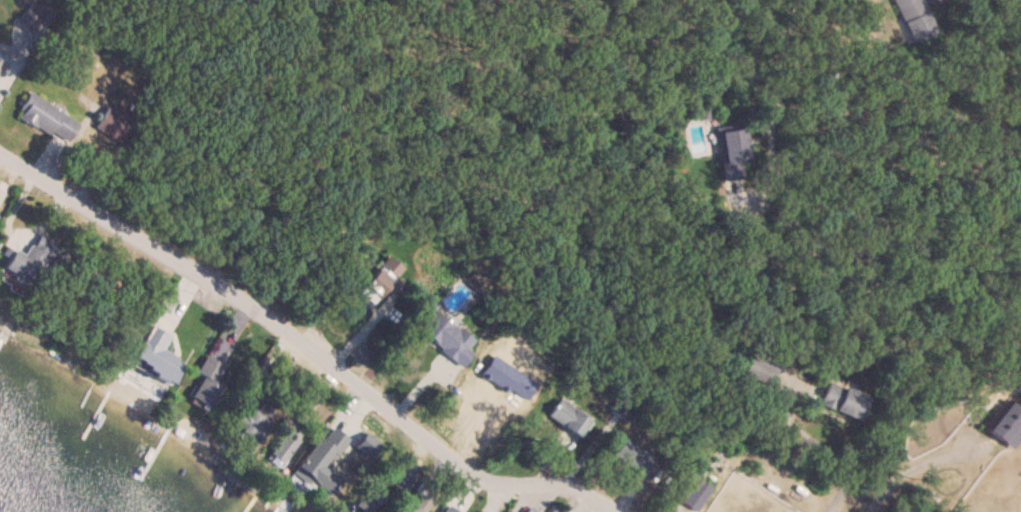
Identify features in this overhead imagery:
building: (30, 17)
building: (913, 18)
building: (1, 65)
road: (772, 107)
building: (46, 118)
building: (111, 123)
building: (730, 152)
building: (30, 260)
building: (381, 276)
building: (445, 338)
road: (305, 345)
building: (167, 365)
building: (758, 369)
building: (207, 383)
building: (840, 401)
building: (568, 419)
building: (255, 420)
building: (284, 447)
road: (817, 447)
building: (635, 459)
road: (917, 468)
building: (310, 469)
building: (404, 475)

